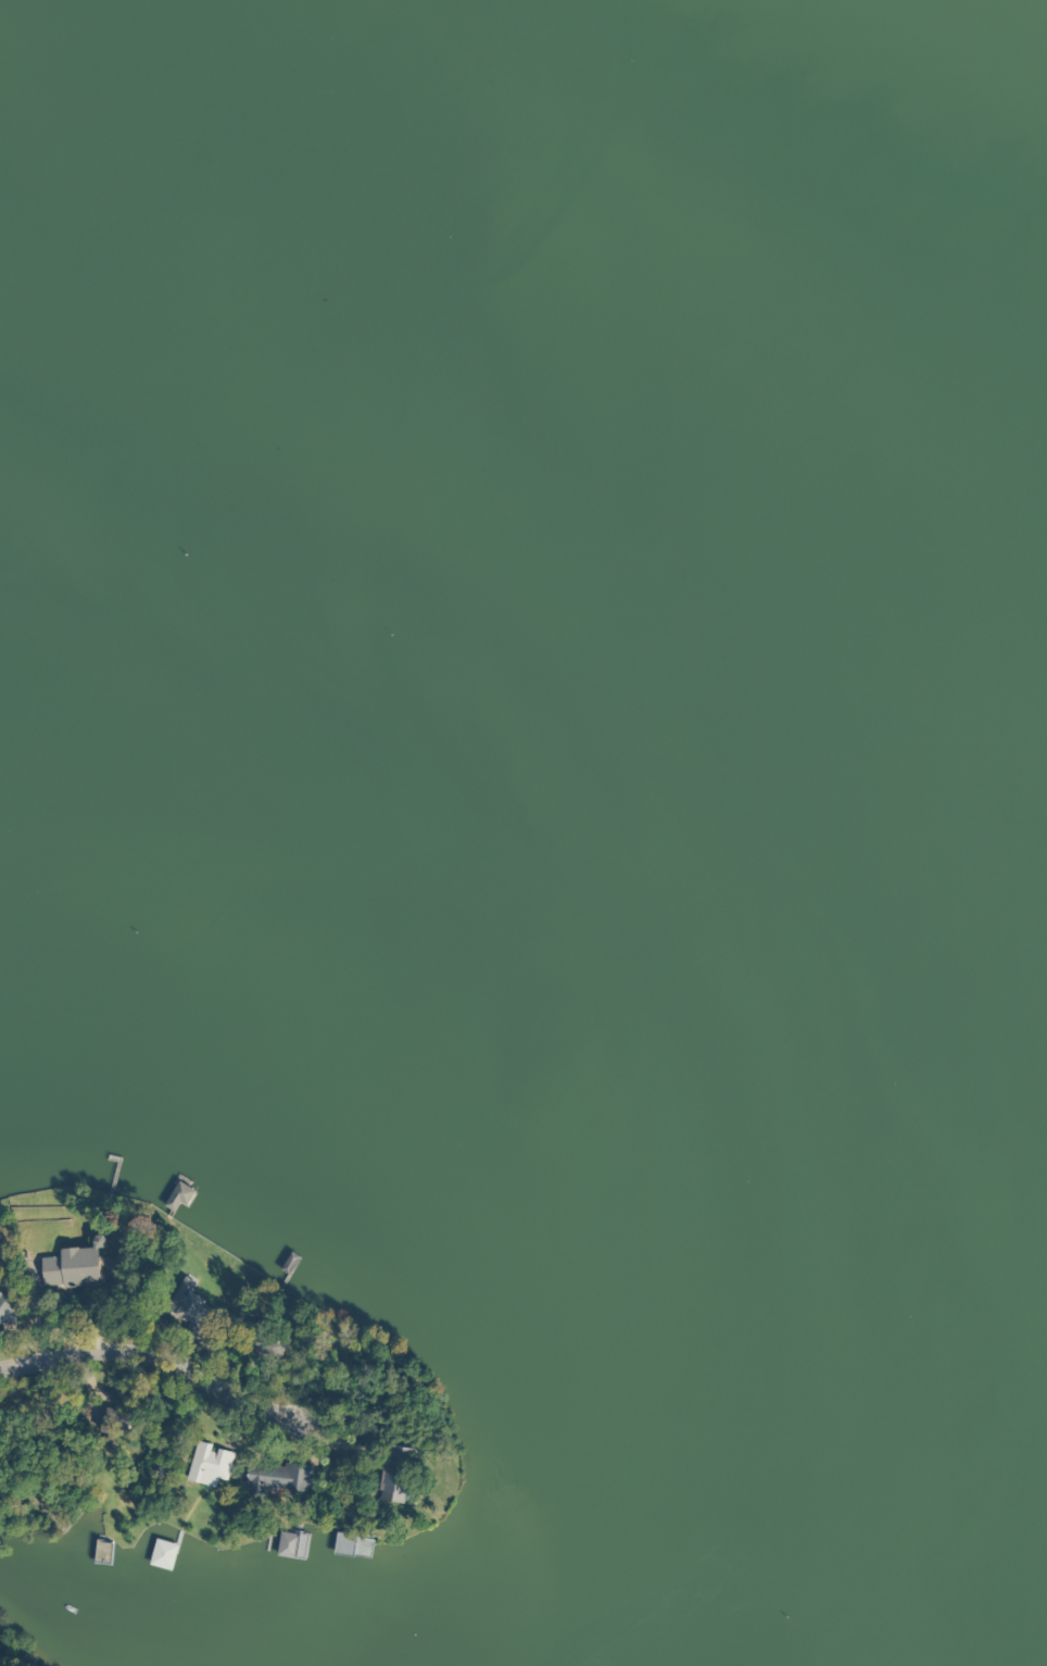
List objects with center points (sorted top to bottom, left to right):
building: (72, 1266)
road: (14, 1302)
building: (5, 1313)
building: (189, 1313)
building: (264, 1343)
road: (26, 1353)
building: (113, 1423)
building: (207, 1465)
building: (394, 1469)
building: (277, 1477)
building: (351, 1545)

